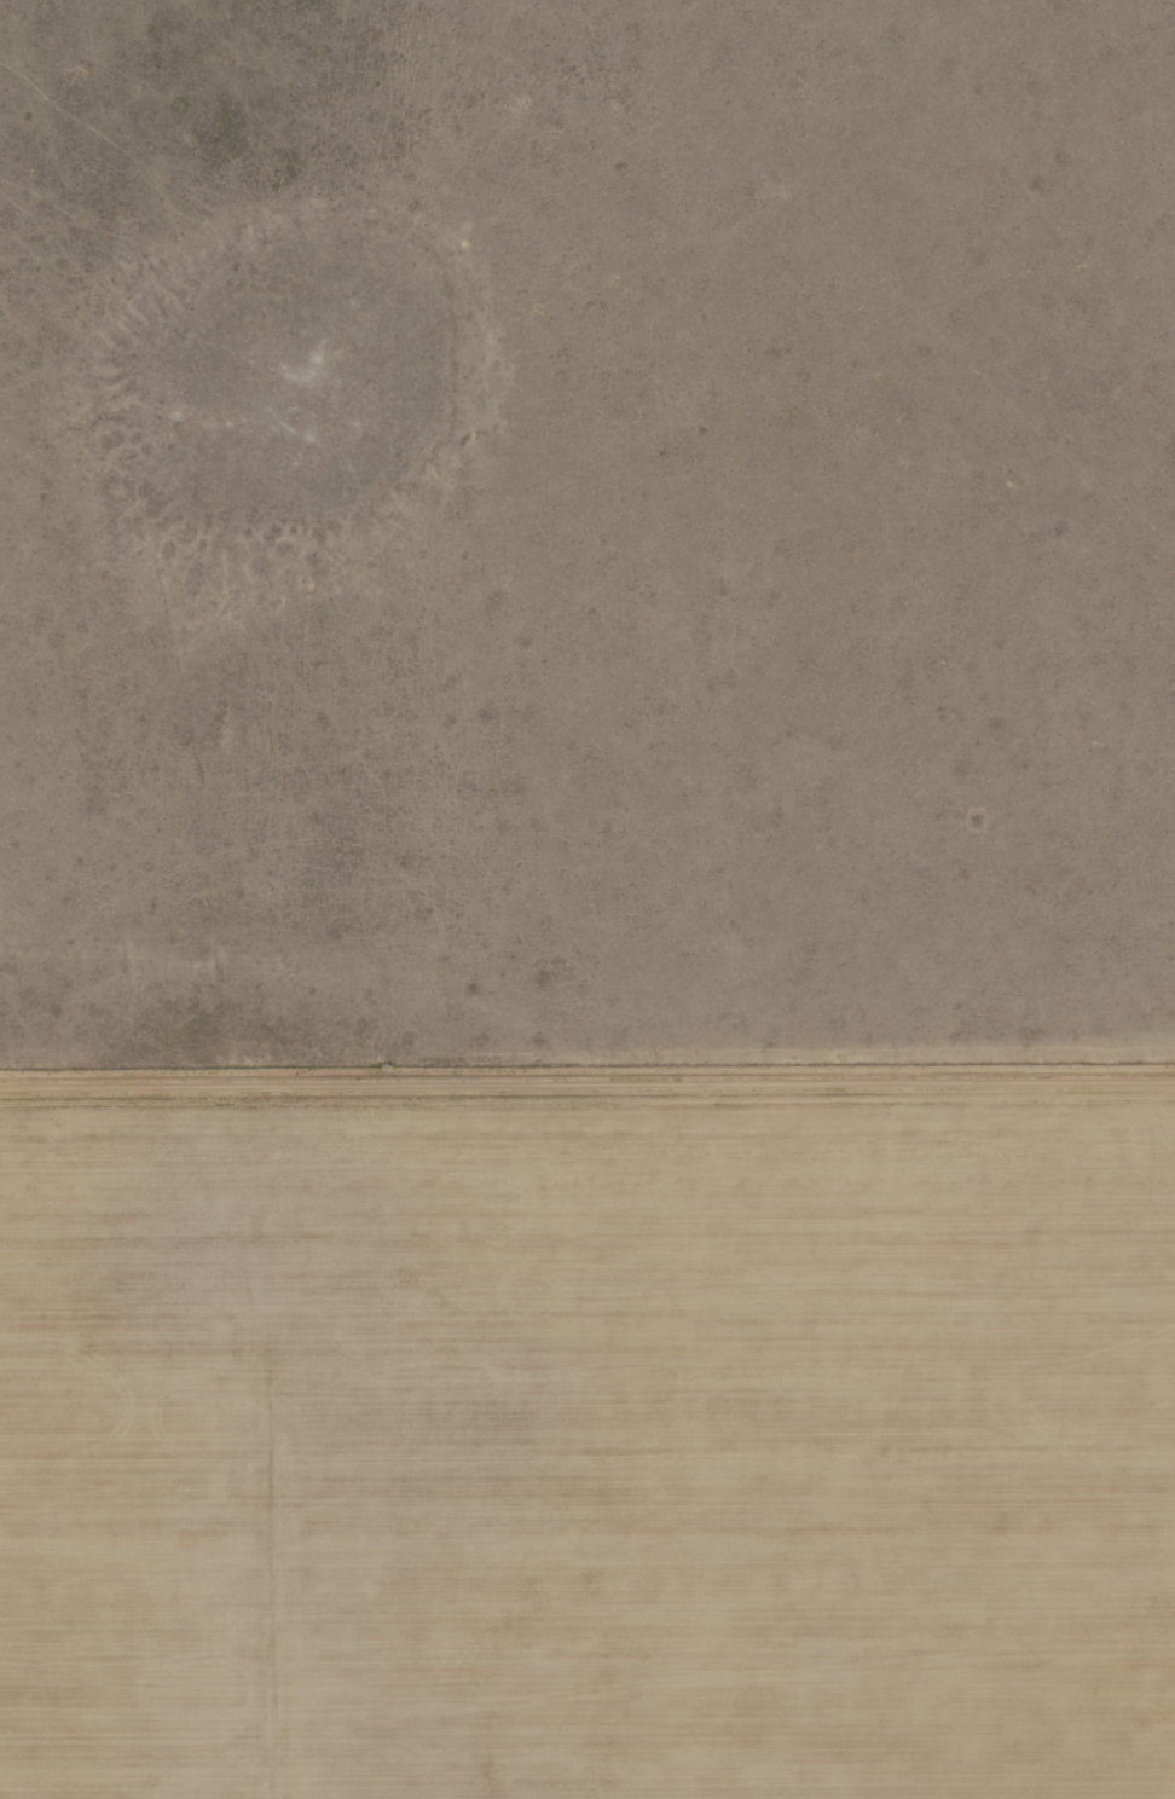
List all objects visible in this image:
road: (586, 1077)

